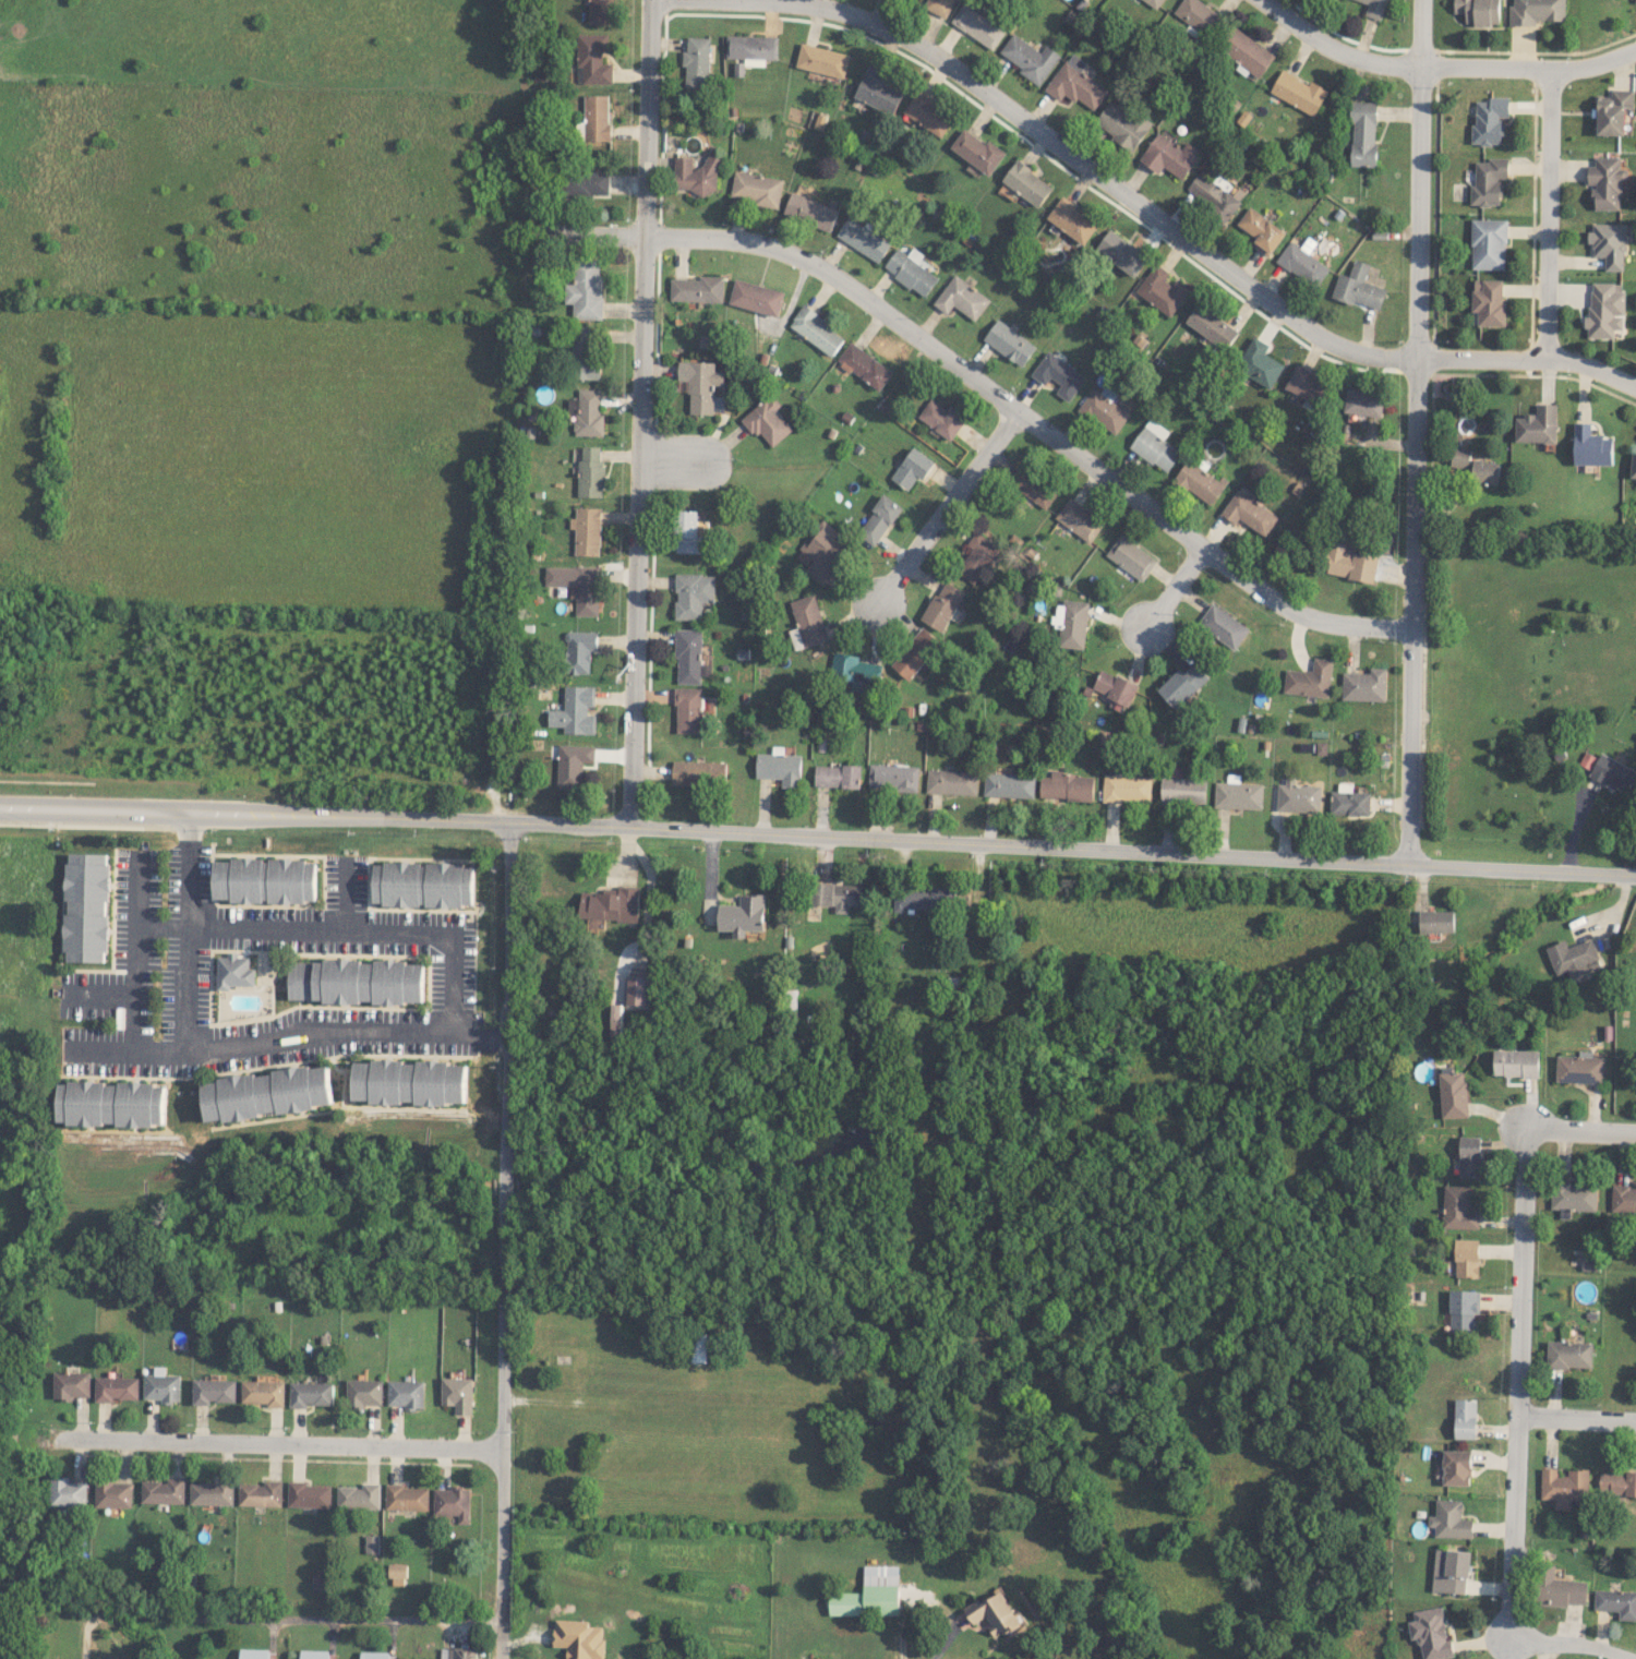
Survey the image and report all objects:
building: (1635, 1)
building: (1154, 2)
building: (939, 7)
building: (1374, 8)
building: (1479, 11)
building: (1537, 11)
building: (601, 12)
building: (1199, 15)
building: (977, 25)
building: (751, 48)
building: (1247, 51)
building: (1028, 57)
building: (593, 58)
building: (822, 60)
building: (697, 62)
road: (1443, 64)
building: (1076, 83)
building: (877, 91)
building: (1299, 92)
building: (1613, 111)
building: (928, 113)
building: (597, 118)
building: (1489, 120)
building: (1122, 124)
building: (1363, 133)
building: (977, 152)
building: (1170, 156)
building: (696, 176)
building: (1489, 181)
building: (1608, 182)
building: (587, 183)
building: (1026, 183)
building: (756, 189)
building: (1215, 195)
building: (810, 211)
road: (1549, 214)
building: (1072, 220)
building: (1261, 230)
building: (863, 239)
building: (1488, 243)
building: (1609, 243)
road: (1202, 249)
building: (1121, 252)
building: (1301, 264)
building: (910, 271)
building: (1357, 287)
building: (698, 289)
building: (1162, 289)
building: (586, 290)
building: (757, 297)
building: (961, 298)
building: (1489, 301)
building: (1604, 309)
building: (1211, 326)
building: (817, 330)
building: (1009, 342)
building: (585, 351)
building: (1259, 362)
building: (864, 365)
building: (1058, 375)
building: (1308, 385)
building: (703, 386)
road: (993, 394)
building: (1363, 401)
road: (642, 409)
building: (1103, 411)
building: (587, 412)
building: (941, 418)
building: (767, 421)
building: (1538, 424)
road: (1417, 428)
building: (1591, 446)
building: (1155, 448)
road: (676, 465)
building: (1476, 466)
building: (1633, 466)
building: (912, 468)
building: (590, 472)
building: (1199, 482)
building: (1032, 485)
road: (942, 504)
building: (1249, 513)
building: (879, 519)
building: (1079, 519)
building: (587, 530)
building: (689, 533)
building: (821, 550)
building: (977, 557)
building: (1131, 557)
building: (1350, 562)
building: (578, 586)
road: (1171, 589)
building: (693, 594)
building: (942, 605)
building: (807, 623)
building: (1071, 623)
building: (1224, 626)
building: (580, 651)
building: (915, 652)
building: (689, 656)
building: (854, 670)
building: (1310, 680)
building: (1183, 684)
building: (1364, 685)
building: (1115, 687)
building: (689, 710)
building: (576, 711)
building: (574, 765)
building: (779, 768)
building: (699, 772)
building: (1614, 774)
building: (838, 776)
building: (893, 777)
building: (952, 781)
building: (1009, 784)
building: (1067, 786)
building: (1127, 788)
building: (1183, 790)
building: (1238, 795)
building: (1298, 797)
building: (1348, 801)
road: (818, 827)
building: (265, 880)
building: (423, 883)
building: (838, 895)
building: (924, 898)
building: (609, 904)
building: (86, 907)
building: (744, 915)
building: (1436, 921)
road: (134, 953)
building: (1574, 958)
road: (450, 960)
building: (233, 972)
building: (356, 982)
road: (185, 985)
building: (637, 990)
building: (615, 1022)
building: (1516, 1062)
building: (1579, 1069)
building: (410, 1082)
building: (268, 1093)
building: (1453, 1094)
building: (112, 1104)
road: (1579, 1129)
building: (1469, 1156)
building: (1573, 1197)
building: (1623, 1199)
building: (1458, 1207)
road: (505, 1236)
building: (1466, 1258)
building: (1463, 1310)
building: (700, 1347)
building: (1568, 1354)
road: (1511, 1379)
building: (71, 1384)
building: (161, 1387)
building: (116, 1388)
building: (213, 1391)
building: (263, 1392)
building: (311, 1393)
building: (363, 1393)
building: (406, 1393)
building: (458, 1394)
road: (1573, 1417)
building: (1465, 1418)
road: (276, 1443)
building: (1456, 1467)
building: (1616, 1482)
building: (1563, 1487)
building: (163, 1491)
building: (68, 1492)
building: (210, 1493)
building: (261, 1493)
building: (113, 1494)
building: (309, 1494)
building: (358, 1496)
building: (407, 1498)
building: (453, 1503)
building: (1449, 1519)
building: (372, 1543)
building: (1451, 1571)
building: (398, 1574)
building: (1560, 1589)
building: (870, 1594)
building: (1616, 1602)
road: (931, 1603)
building: (994, 1613)
road: (298, 1619)
building: (1431, 1633)
building: (579, 1638)
road: (1571, 1646)
building: (254, 1654)
building: (314, 1654)
building: (458, 1654)
building: (377, 1655)

